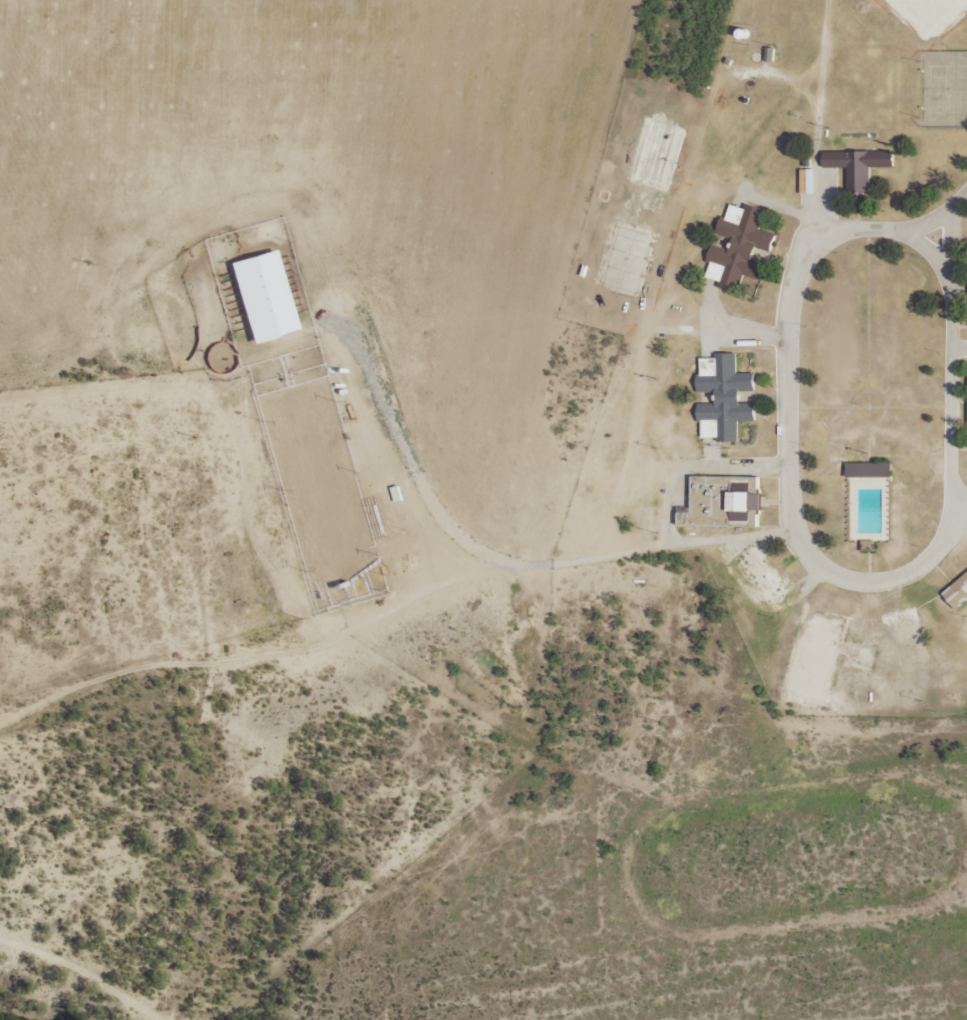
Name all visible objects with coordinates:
building: (856, 164)
building: (737, 247)
building: (261, 294)
building: (721, 397)
building: (966, 432)
building: (866, 469)
road: (801, 499)
building: (703, 506)
building: (866, 545)
building: (956, 591)
road: (401, 646)
road: (63, 979)

